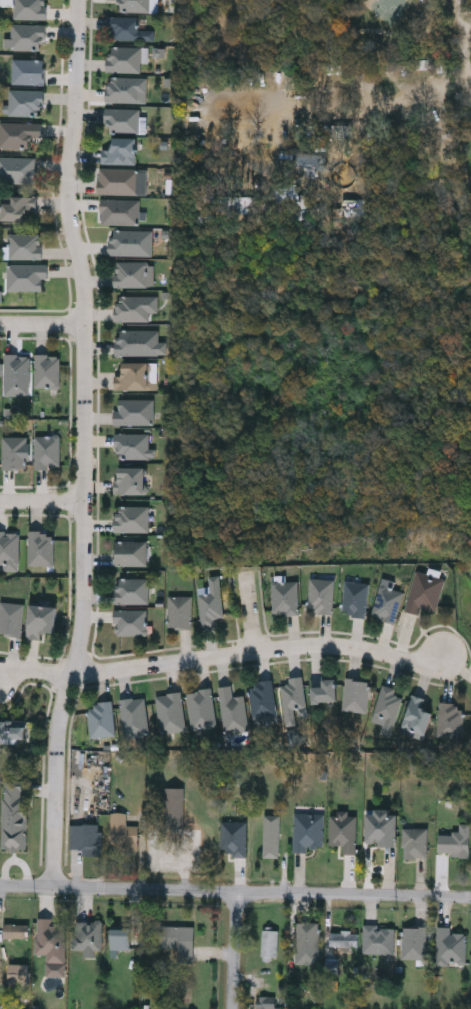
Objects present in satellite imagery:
building: (136, 6)
building: (30, 9)
building: (128, 29)
building: (28, 37)
road: (464, 41)
building: (125, 60)
building: (29, 71)
building: (126, 89)
building: (26, 102)
building: (123, 121)
building: (19, 134)
building: (121, 152)
building: (18, 170)
building: (123, 182)
building: (20, 208)
building: (121, 212)
building: (127, 242)
building: (27, 246)
building: (134, 274)
building: (28, 277)
building: (132, 308)
road: (42, 326)
building: (138, 342)
building: (48, 371)
building: (0, 372)
building: (18, 375)
building: (134, 377)
building: (135, 412)
road: (84, 446)
building: (134, 446)
building: (15, 452)
building: (48, 452)
building: (132, 480)
road: (42, 503)
building: (133, 519)
building: (42, 548)
building: (9, 550)
building: (132, 553)
building: (133, 591)
building: (426, 593)
building: (323, 596)
building: (287, 597)
building: (356, 599)
building: (212, 603)
building: (389, 604)
building: (181, 612)
building: (13, 619)
building: (43, 621)
building: (132, 623)
road: (257, 651)
road: (35, 673)
building: (326, 691)
building: (357, 696)
building: (293, 697)
building: (263, 699)
building: (388, 708)
building: (201, 710)
building: (233, 711)
building: (171, 713)
building: (418, 716)
building: (135, 717)
building: (102, 718)
building: (451, 720)
building: (14, 730)
building: (175, 809)
building: (383, 828)
building: (345, 831)
building: (310, 832)
building: (125, 833)
building: (86, 837)
building: (235, 839)
building: (273, 841)
building: (456, 842)
building: (416, 843)
road: (235, 896)
building: (18, 931)
building: (90, 937)
building: (53, 939)
building: (122, 940)
building: (344, 940)
building: (180, 941)
building: (381, 941)
building: (308, 943)
building: (415, 943)
building: (271, 945)
building: (451, 946)
road: (235, 953)
building: (268, 1003)

